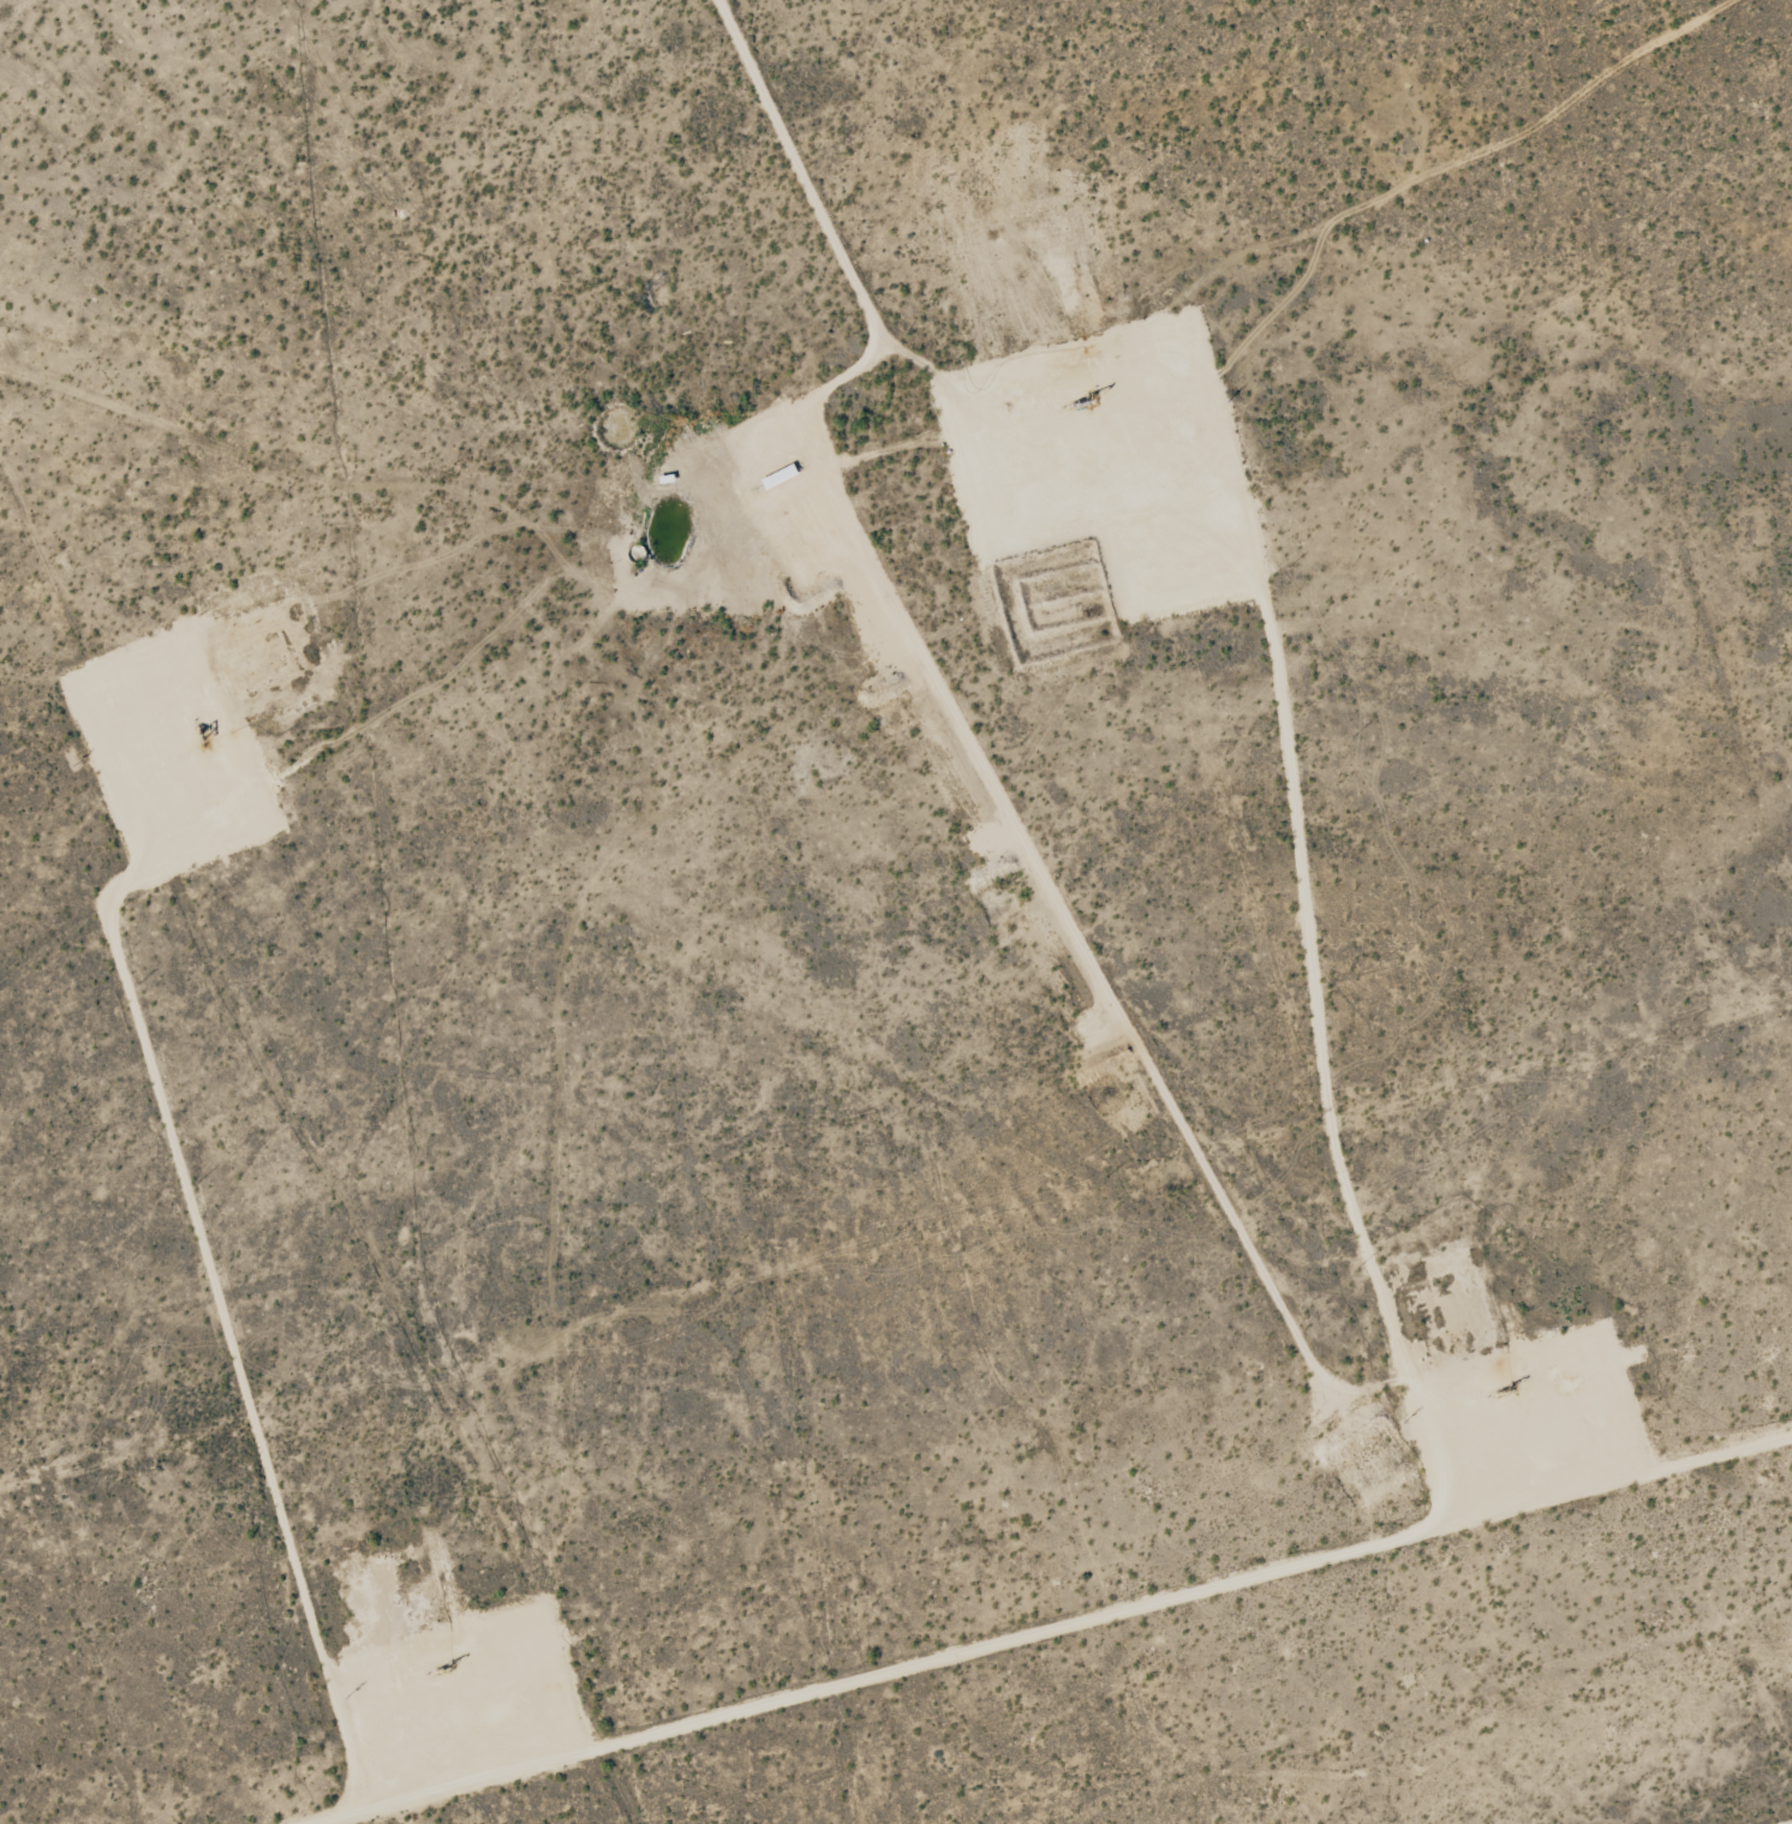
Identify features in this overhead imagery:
road: (1786, 1822)

